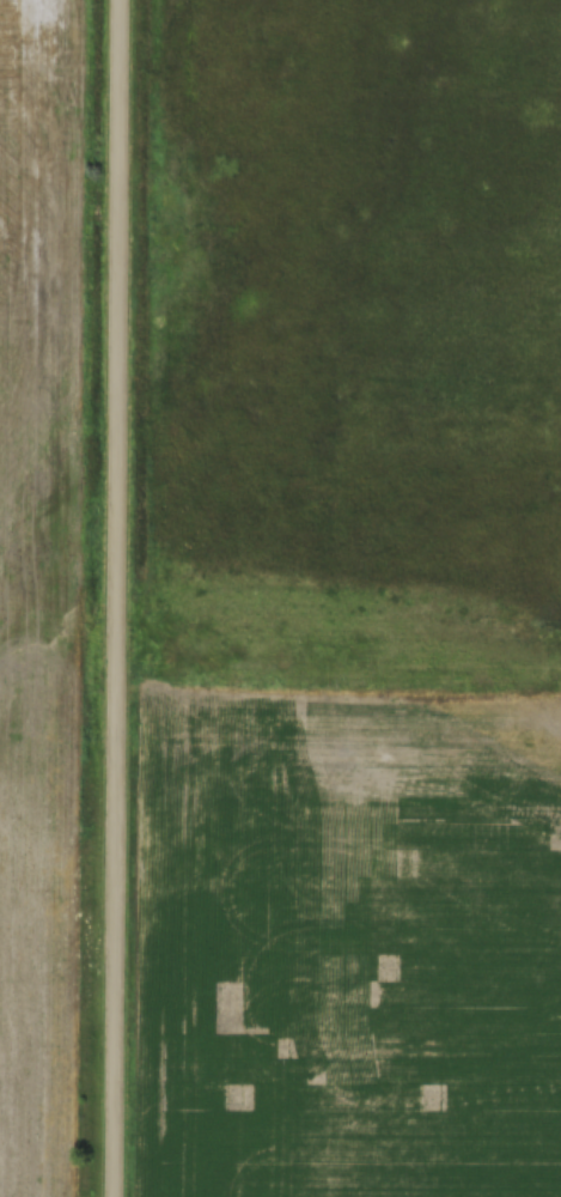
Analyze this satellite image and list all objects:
road: (104, 598)

